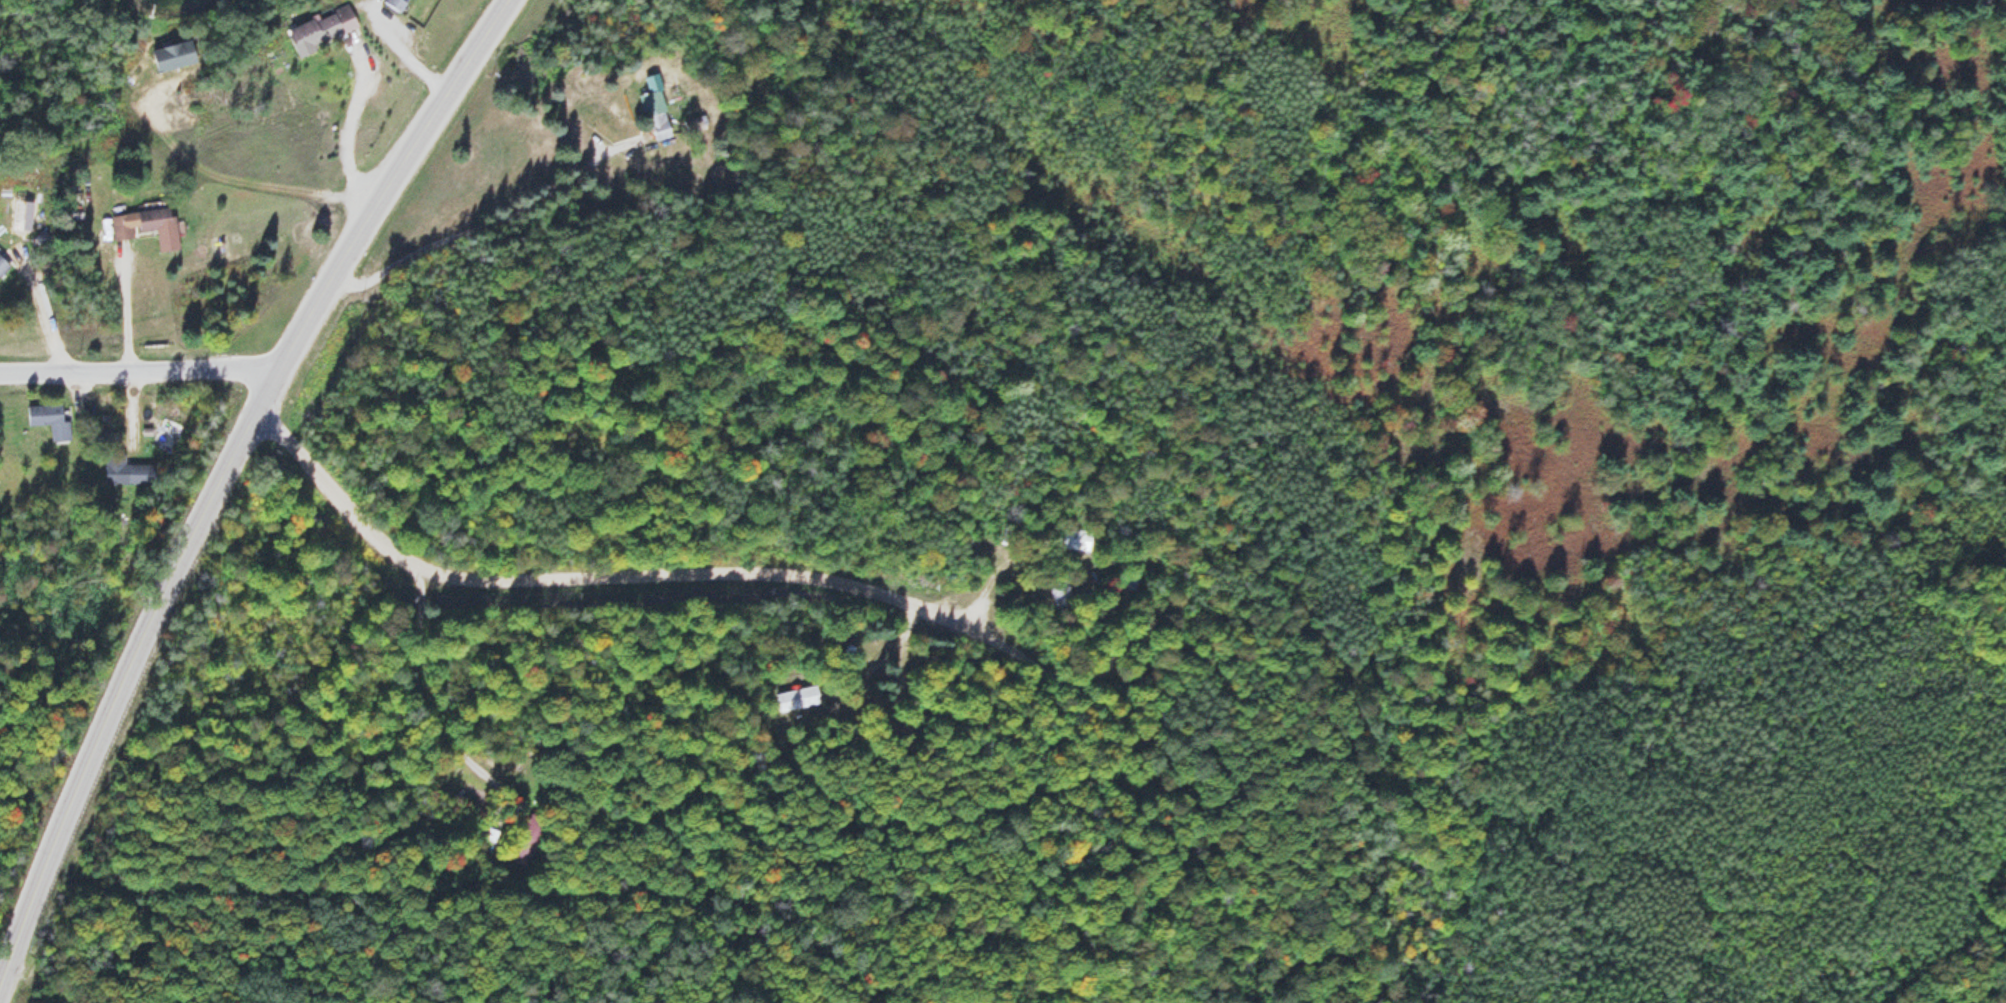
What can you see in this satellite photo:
building: (397, 4)
building: (322, 30)
building: (175, 56)
building: (656, 109)
road: (349, 122)
building: (148, 226)
building: (3, 266)
road: (138, 369)
building: (49, 420)
building: (131, 471)
road: (222, 473)
road: (846, 586)
building: (1059, 594)
building: (797, 697)
road: (428, 711)
building: (526, 842)

